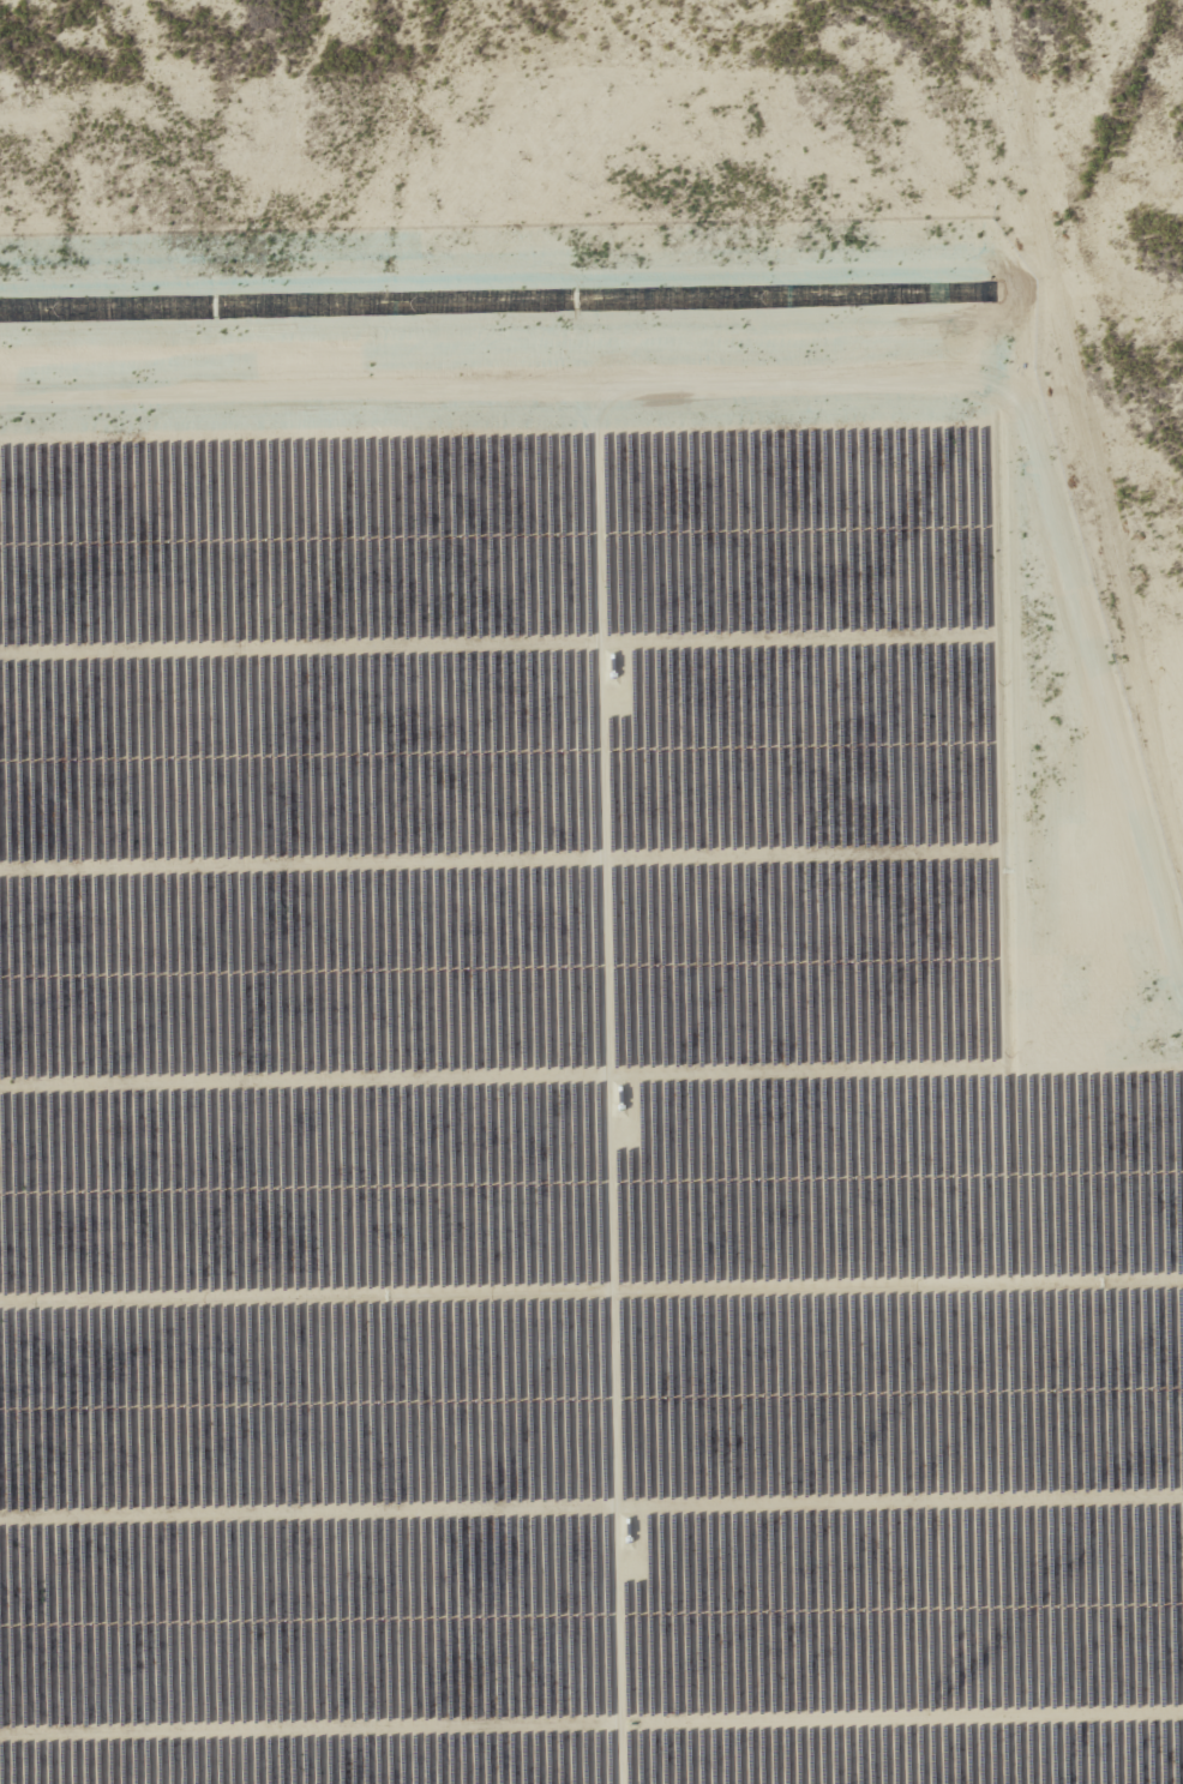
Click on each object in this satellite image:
road: (337, 1274)

